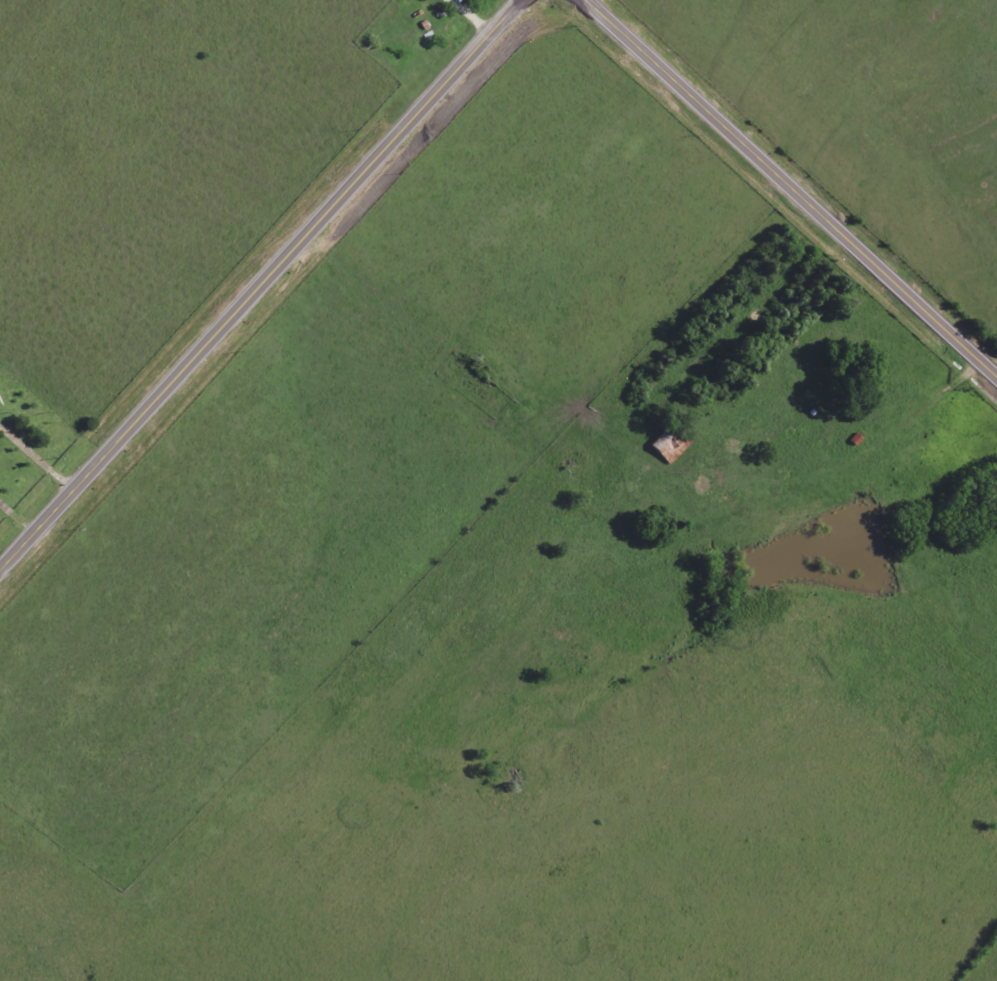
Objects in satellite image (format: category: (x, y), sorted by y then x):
road: (792, 184)
road: (259, 284)
road: (38, 448)
road: (19, 509)

